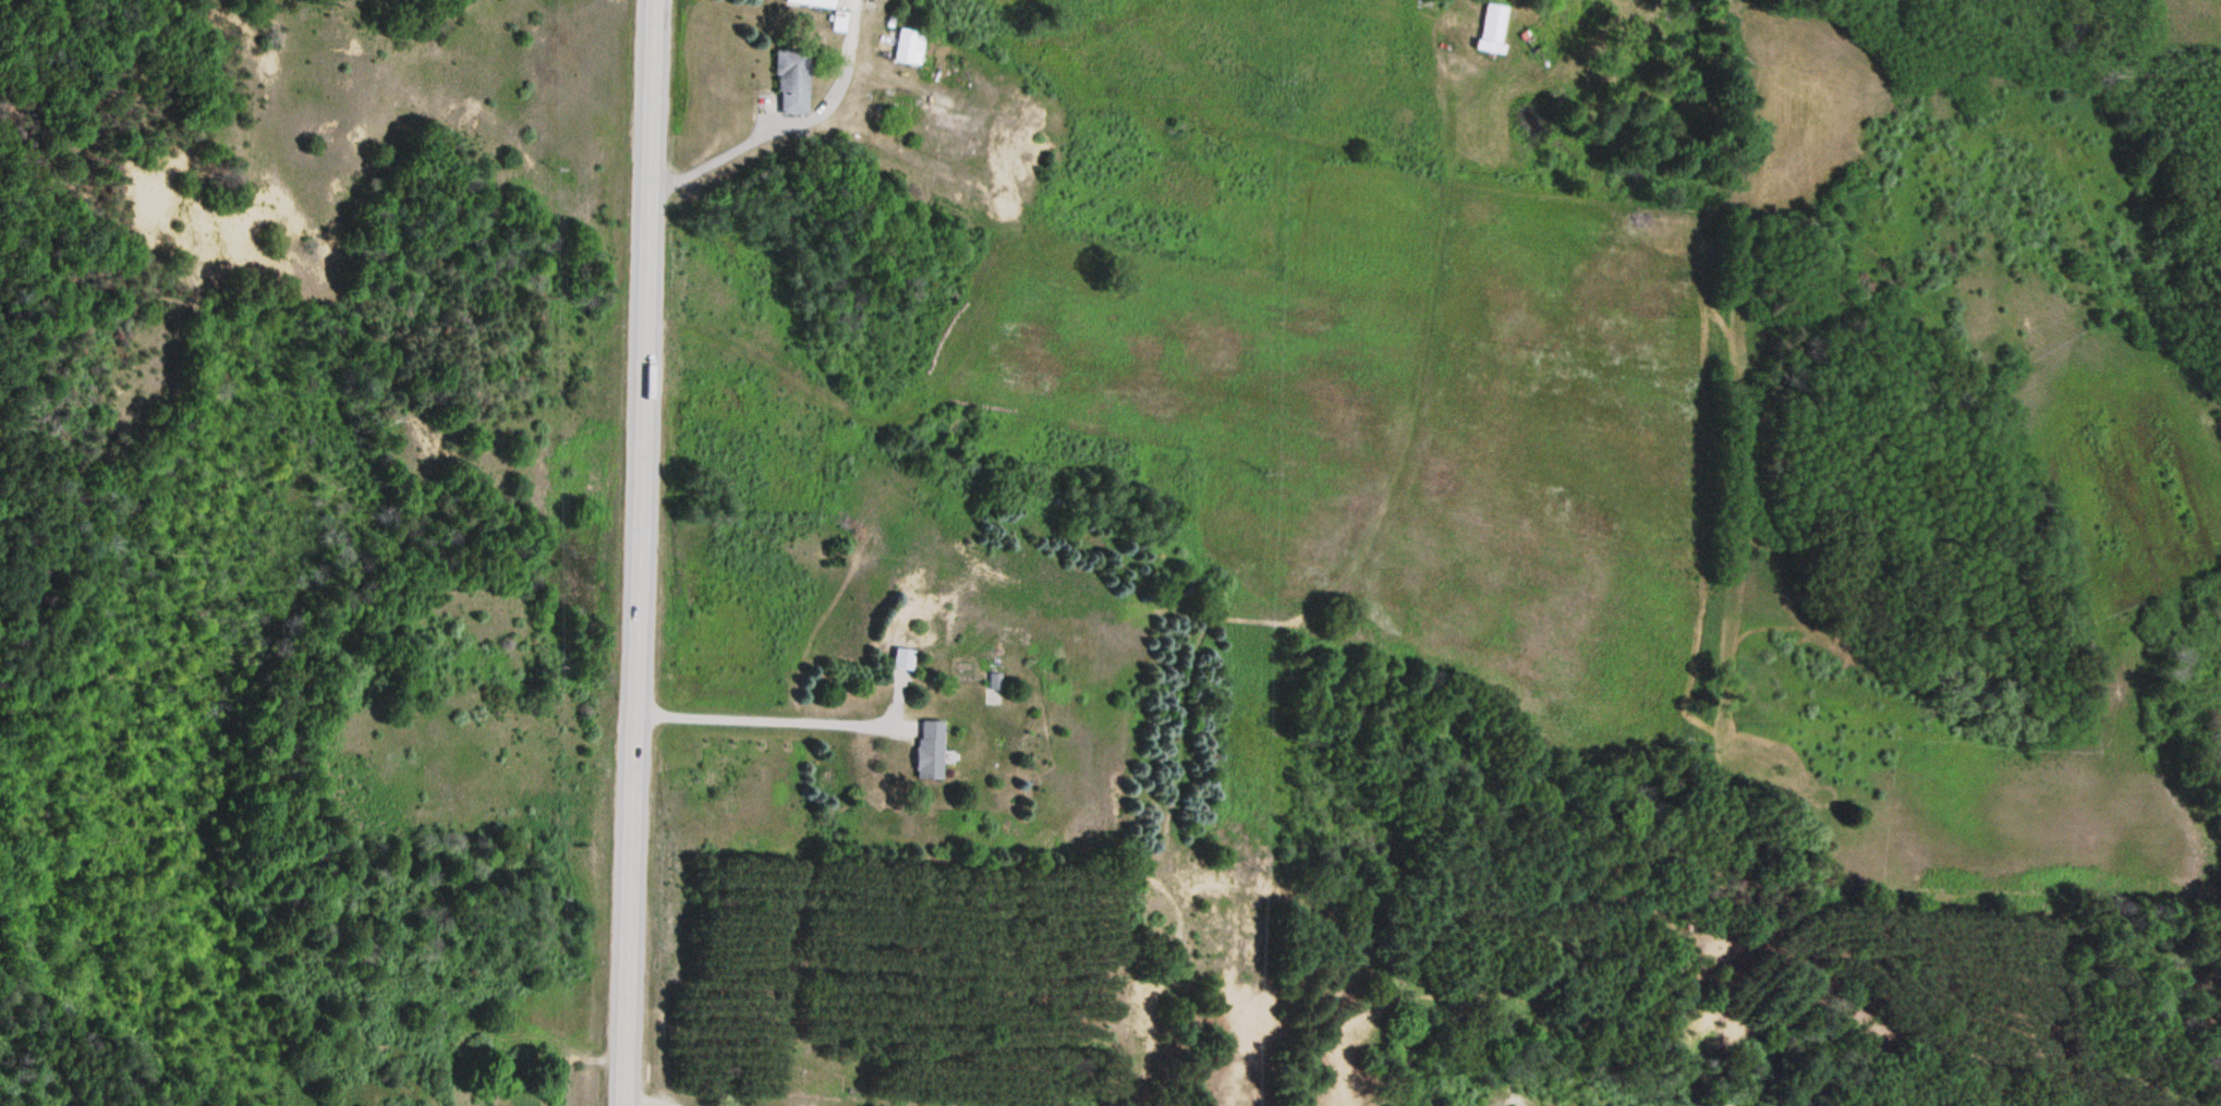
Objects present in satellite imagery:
building: (816, 3)
building: (841, 23)
building: (1494, 28)
building: (910, 47)
building: (793, 83)
road: (638, 552)
building: (995, 682)
building: (932, 751)
building: (530, 1101)

